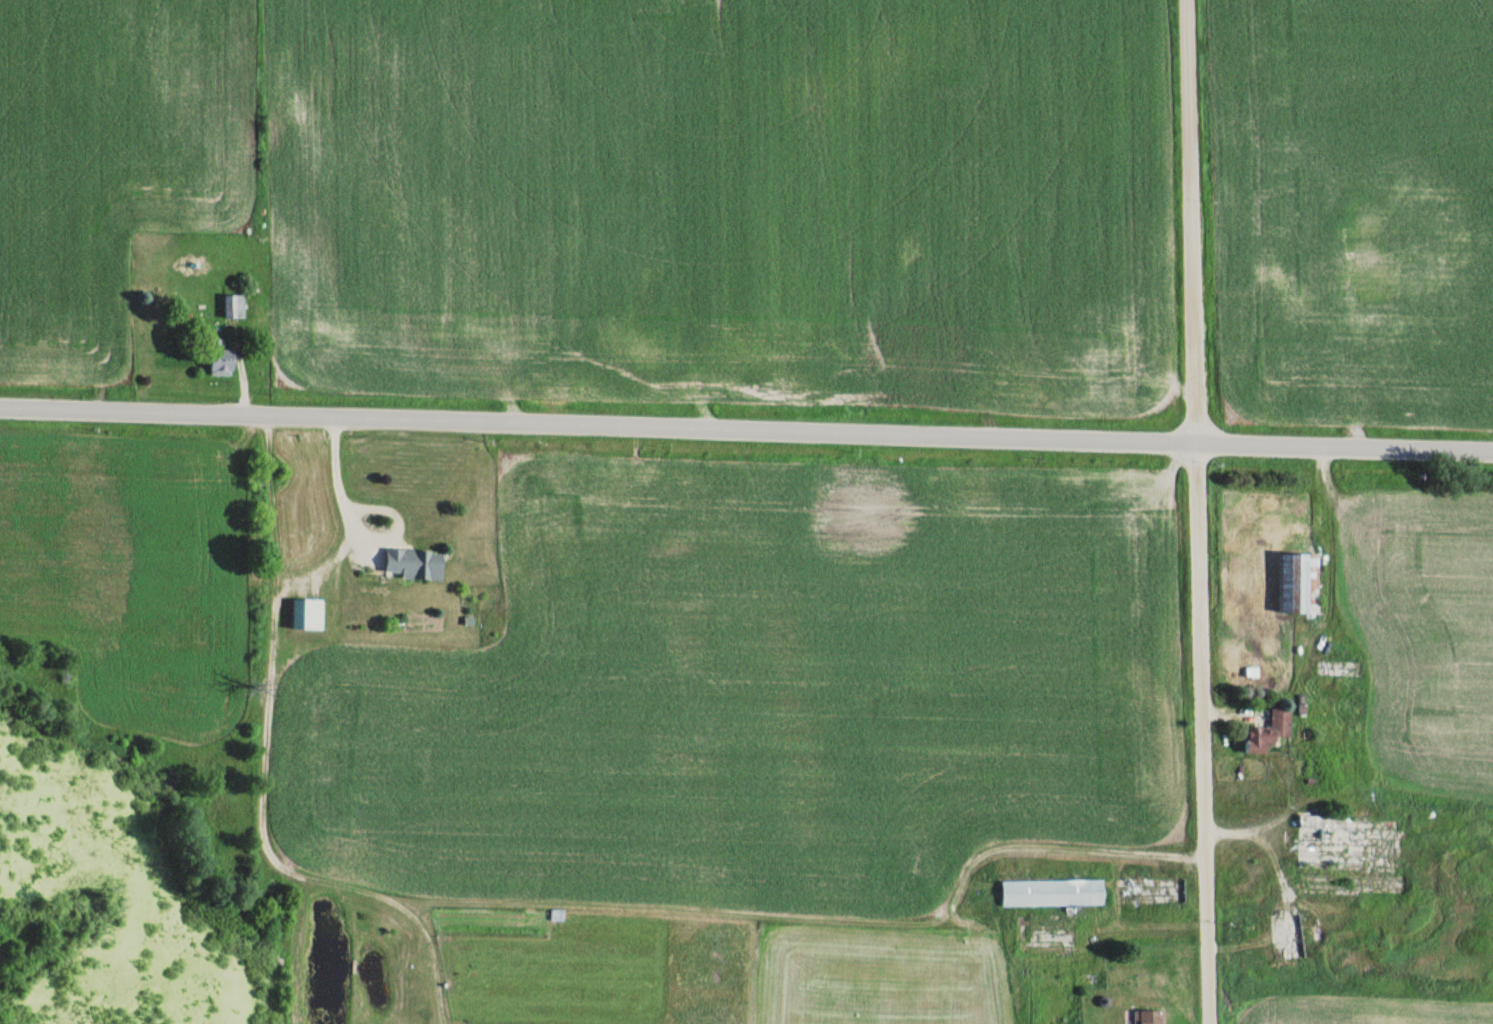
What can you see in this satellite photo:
building: (233, 306)
building: (220, 361)
road: (746, 425)
road: (1197, 511)
building: (412, 564)
building: (1298, 583)
building: (1267, 732)
building: (1332, 842)
building: (1052, 893)
road: (354, 963)
building: (1147, 1017)

